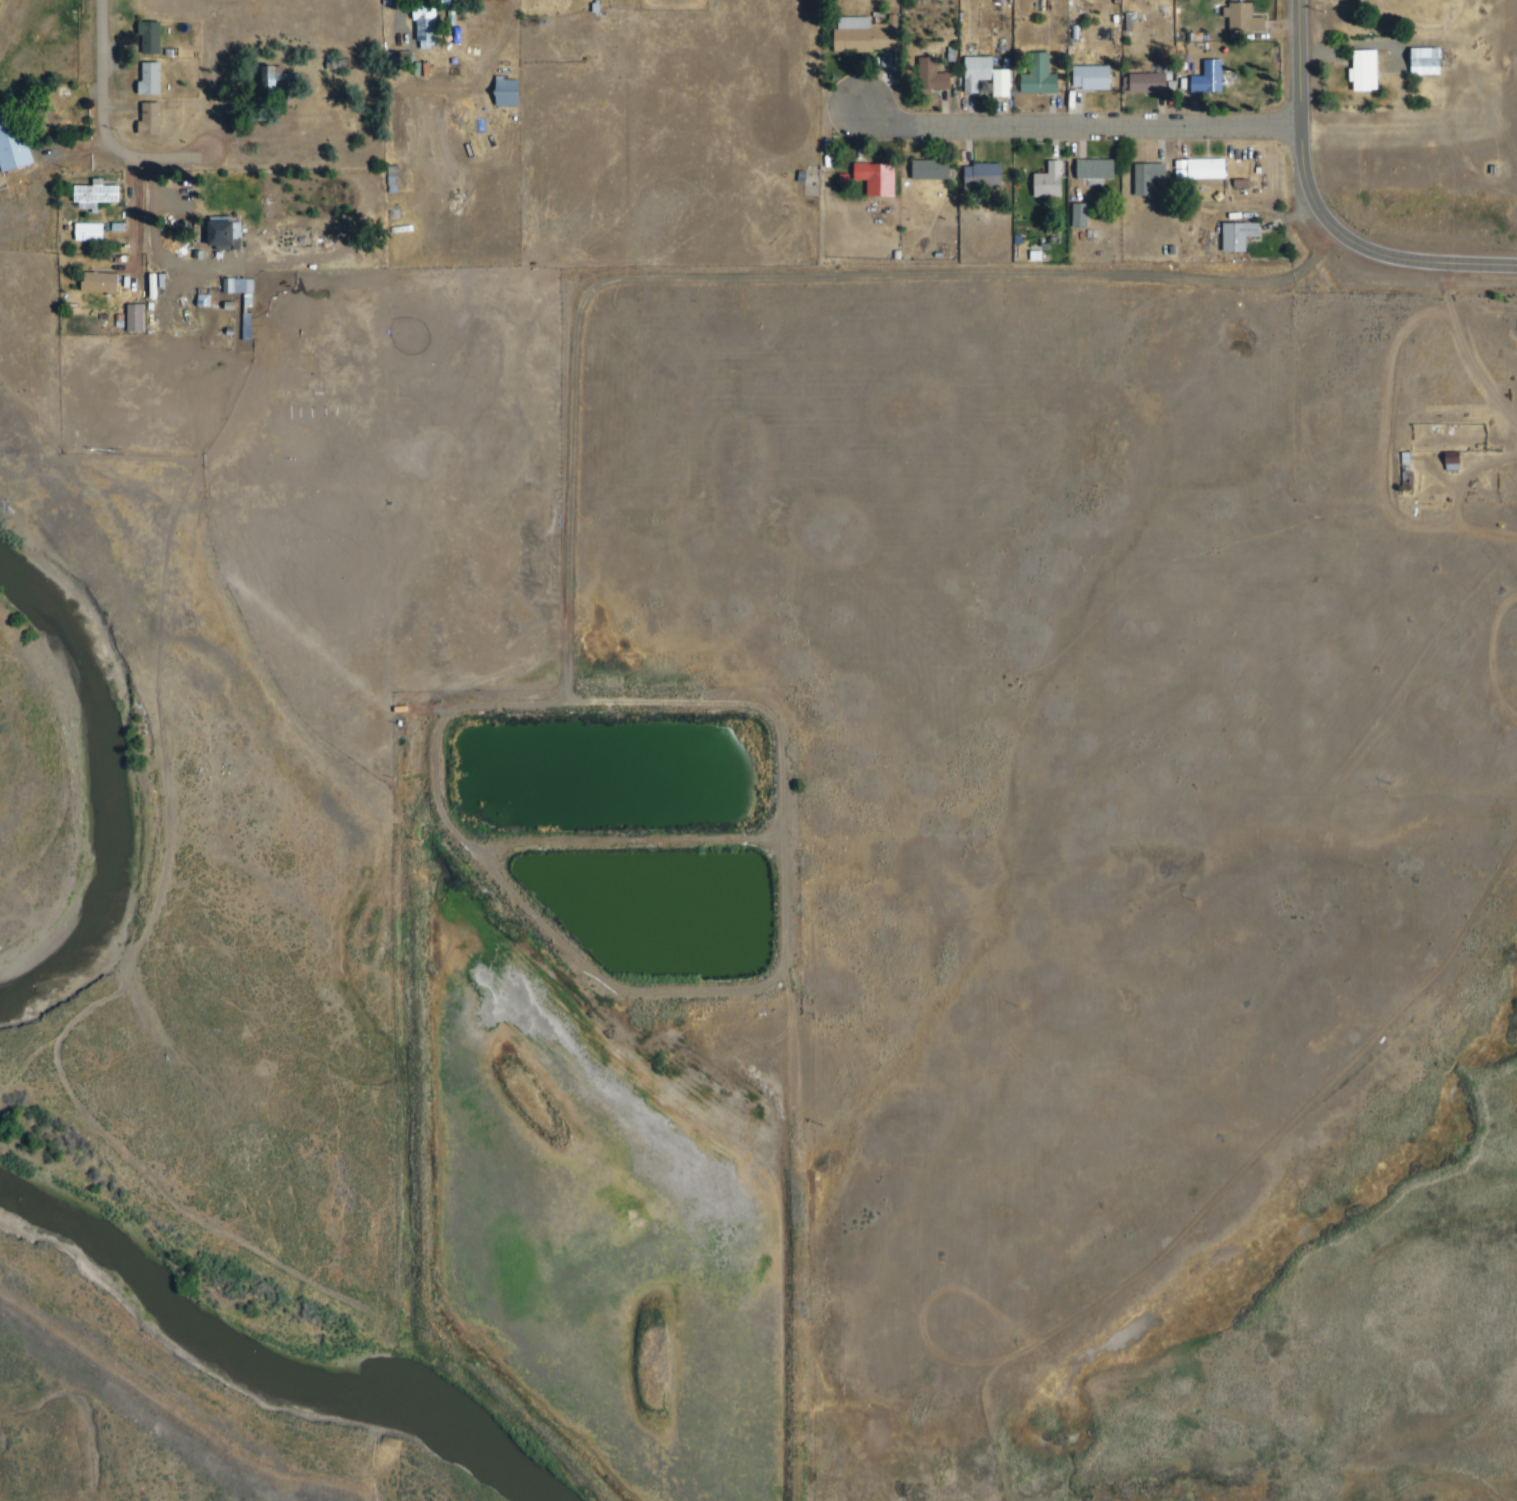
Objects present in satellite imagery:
building: (395, 3)
building: (604, 7)
building: (1252, 17)
building: (423, 26)
building: (436, 28)
building: (404, 30)
building: (1084, 33)
building: (867, 35)
building: (159, 36)
building: (146, 37)
building: (1433, 61)
building: (334, 63)
building: (351, 63)
building: (1371, 70)
building: (983, 72)
building: (939, 73)
building: (1046, 74)
building: (279, 75)
building: (1099, 76)
building: (1217, 78)
building: (147, 79)
building: (159, 79)
building: (1154, 82)
building: (1007, 83)
road: (490, 84)
building: (517, 91)
building: (504, 92)
building: (147, 119)
building: (158, 119)
road: (1084, 125)
road: (117, 137)
building: (21, 140)
road: (174, 156)
building: (1207, 167)
building: (937, 169)
building: (1103, 169)
building: (1503, 170)
building: (992, 171)
building: (1155, 175)
building: (402, 176)
building: (885, 177)
building: (1056, 180)
building: (105, 195)
building: (405, 212)
road: (1318, 214)
building: (1078, 215)
building: (1088, 215)
building: (193, 223)
building: (128, 227)
building: (412, 229)
building: (98, 231)
building: (230, 235)
building: (1247, 235)
building: (1044, 255)
road: (773, 274)
building: (110, 281)
building: (161, 285)
building: (149, 286)
building: (249, 287)
building: (237, 289)
building: (214, 300)
building: (238, 305)
building: (116, 316)
building: (146, 316)
building: (131, 321)
building: (240, 331)
road: (1468, 351)
building: (1449, 461)
building: (1462, 461)
road: (490, 701)
building: (412, 708)
river: (131, 785)
wastewater plant: (640, 833)
road: (637, 840)
road: (1116, 968)
road: (1231, 1183)
river: (74, 1214)
river: (348, 1378)

